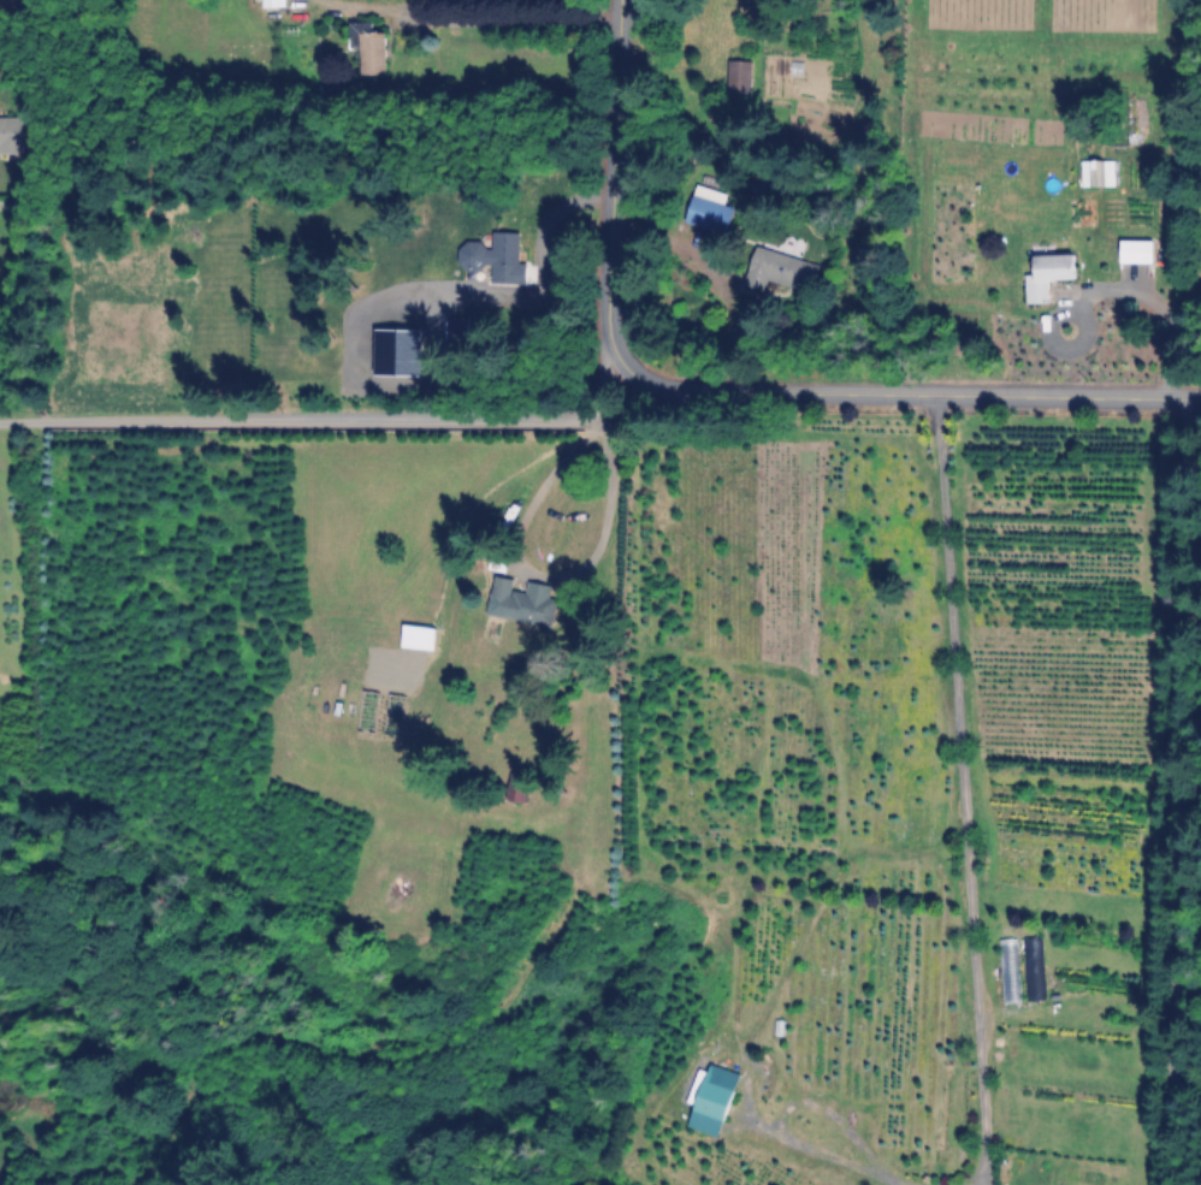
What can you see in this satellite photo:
building: (274, 4)
road: (412, 5)
road: (367, 6)
road: (515, 19)
building: (372, 48)
building: (740, 75)
building: (11, 134)
building: (1099, 172)
building: (711, 214)
building: (1138, 251)
building: (507, 257)
building: (781, 271)
building: (1049, 274)
road: (1155, 300)
road: (729, 310)
road: (724, 383)
road: (329, 420)
road: (546, 574)
building: (525, 602)
building: (421, 638)
building: (520, 787)
road: (957, 787)
road: (1175, 790)
building: (717, 1101)
road: (826, 1151)

